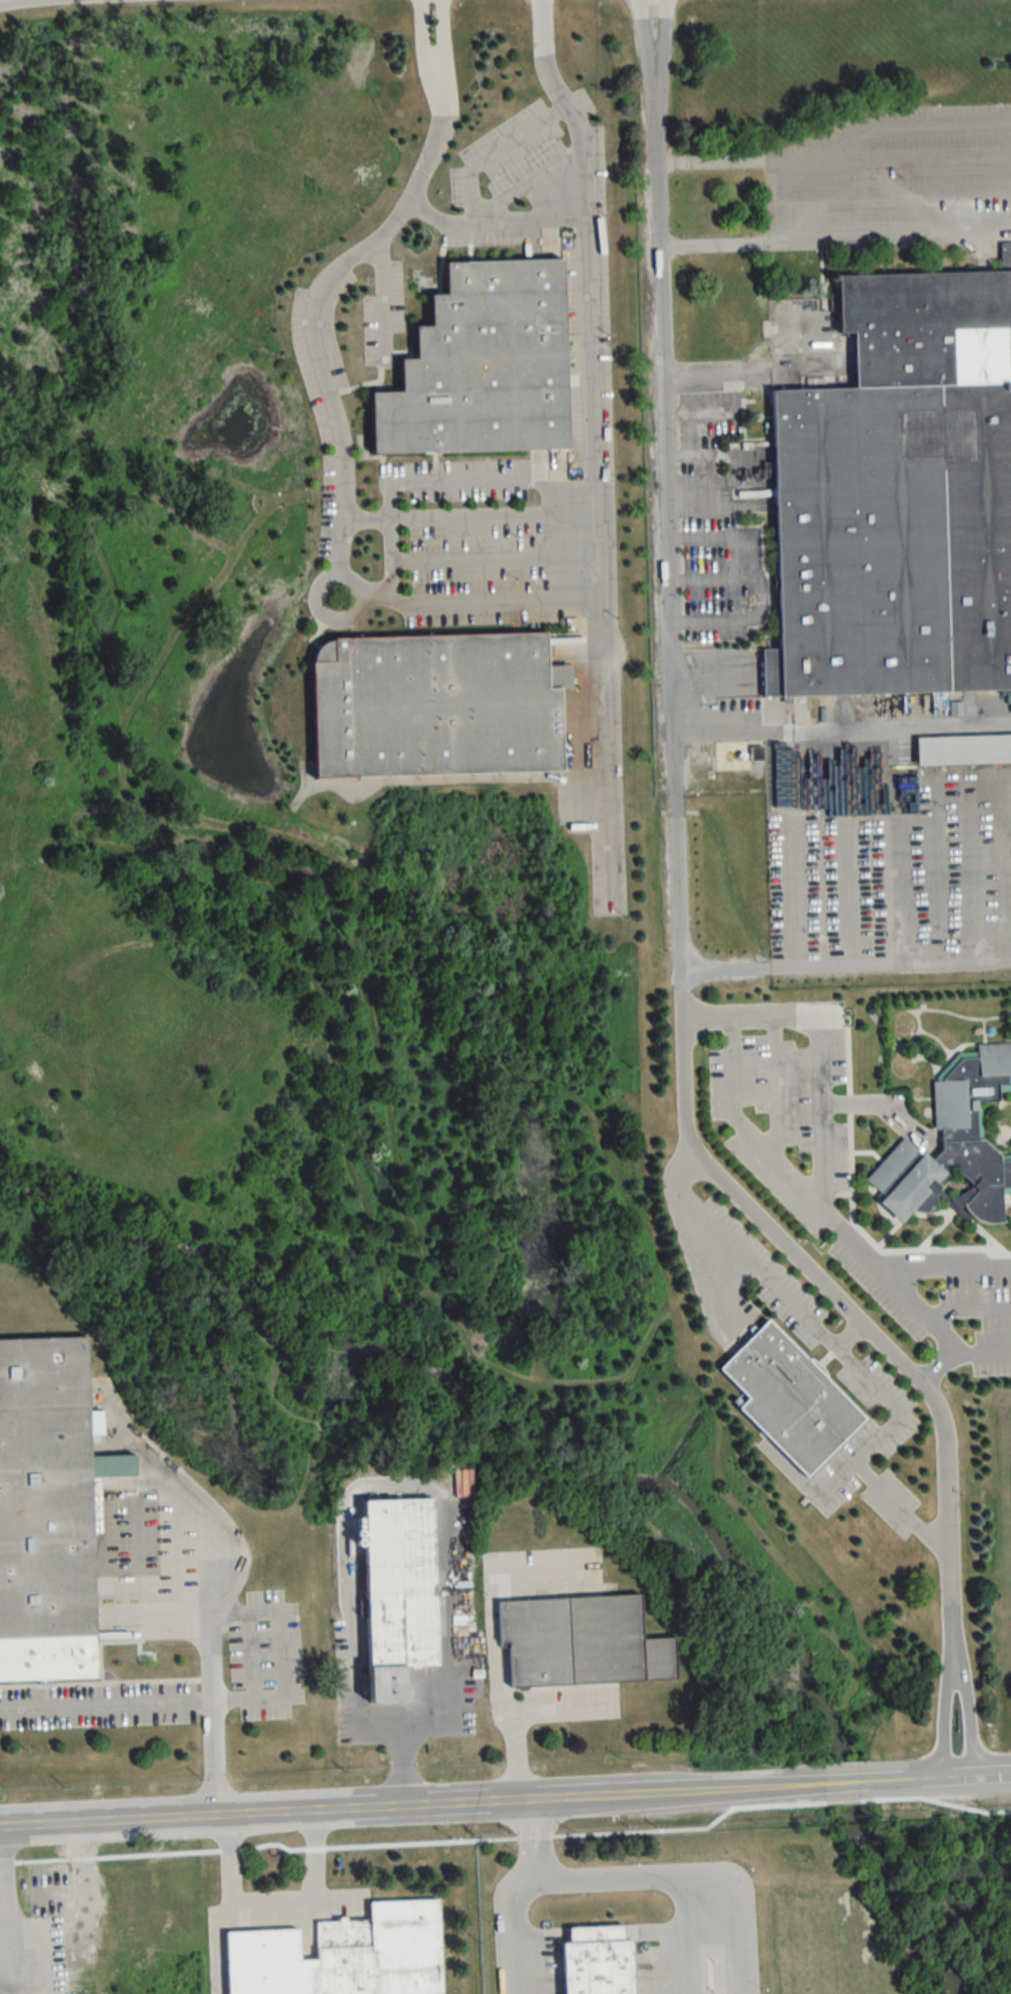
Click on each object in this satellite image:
road: (495, 149)
road: (834, 154)
road: (525, 179)
road: (492, 220)
road: (836, 241)
road: (383, 291)
building: (484, 366)
road: (757, 372)
road: (432, 478)
building: (899, 497)
road: (467, 514)
road: (494, 556)
road: (714, 582)
road: (753, 582)
road: (456, 601)
road: (329, 613)
building: (437, 706)
road: (736, 734)
road: (602, 746)
building: (963, 749)
road: (794, 798)
road: (681, 877)
road: (878, 1104)
road: (743, 1127)
building: (966, 1140)
building: (891, 1165)
road: (824, 1173)
road: (943, 1264)
road: (844, 1334)
road: (984, 1352)
road: (842, 1353)
building: (790, 1400)
road: (419, 1487)
building: (48, 1512)
building: (398, 1593)
building: (581, 1642)
road: (953, 1662)
road: (485, 1689)
road: (156, 1698)
road: (551, 1710)
road: (217, 1756)
road: (968, 1779)
road: (843, 1785)
road: (584, 1799)
road: (203, 1817)
road: (680, 1874)
road: (518, 1892)
road: (314, 1896)
road: (227, 1906)
building: (175, 1919)
building: (343, 1955)
building: (597, 1961)

